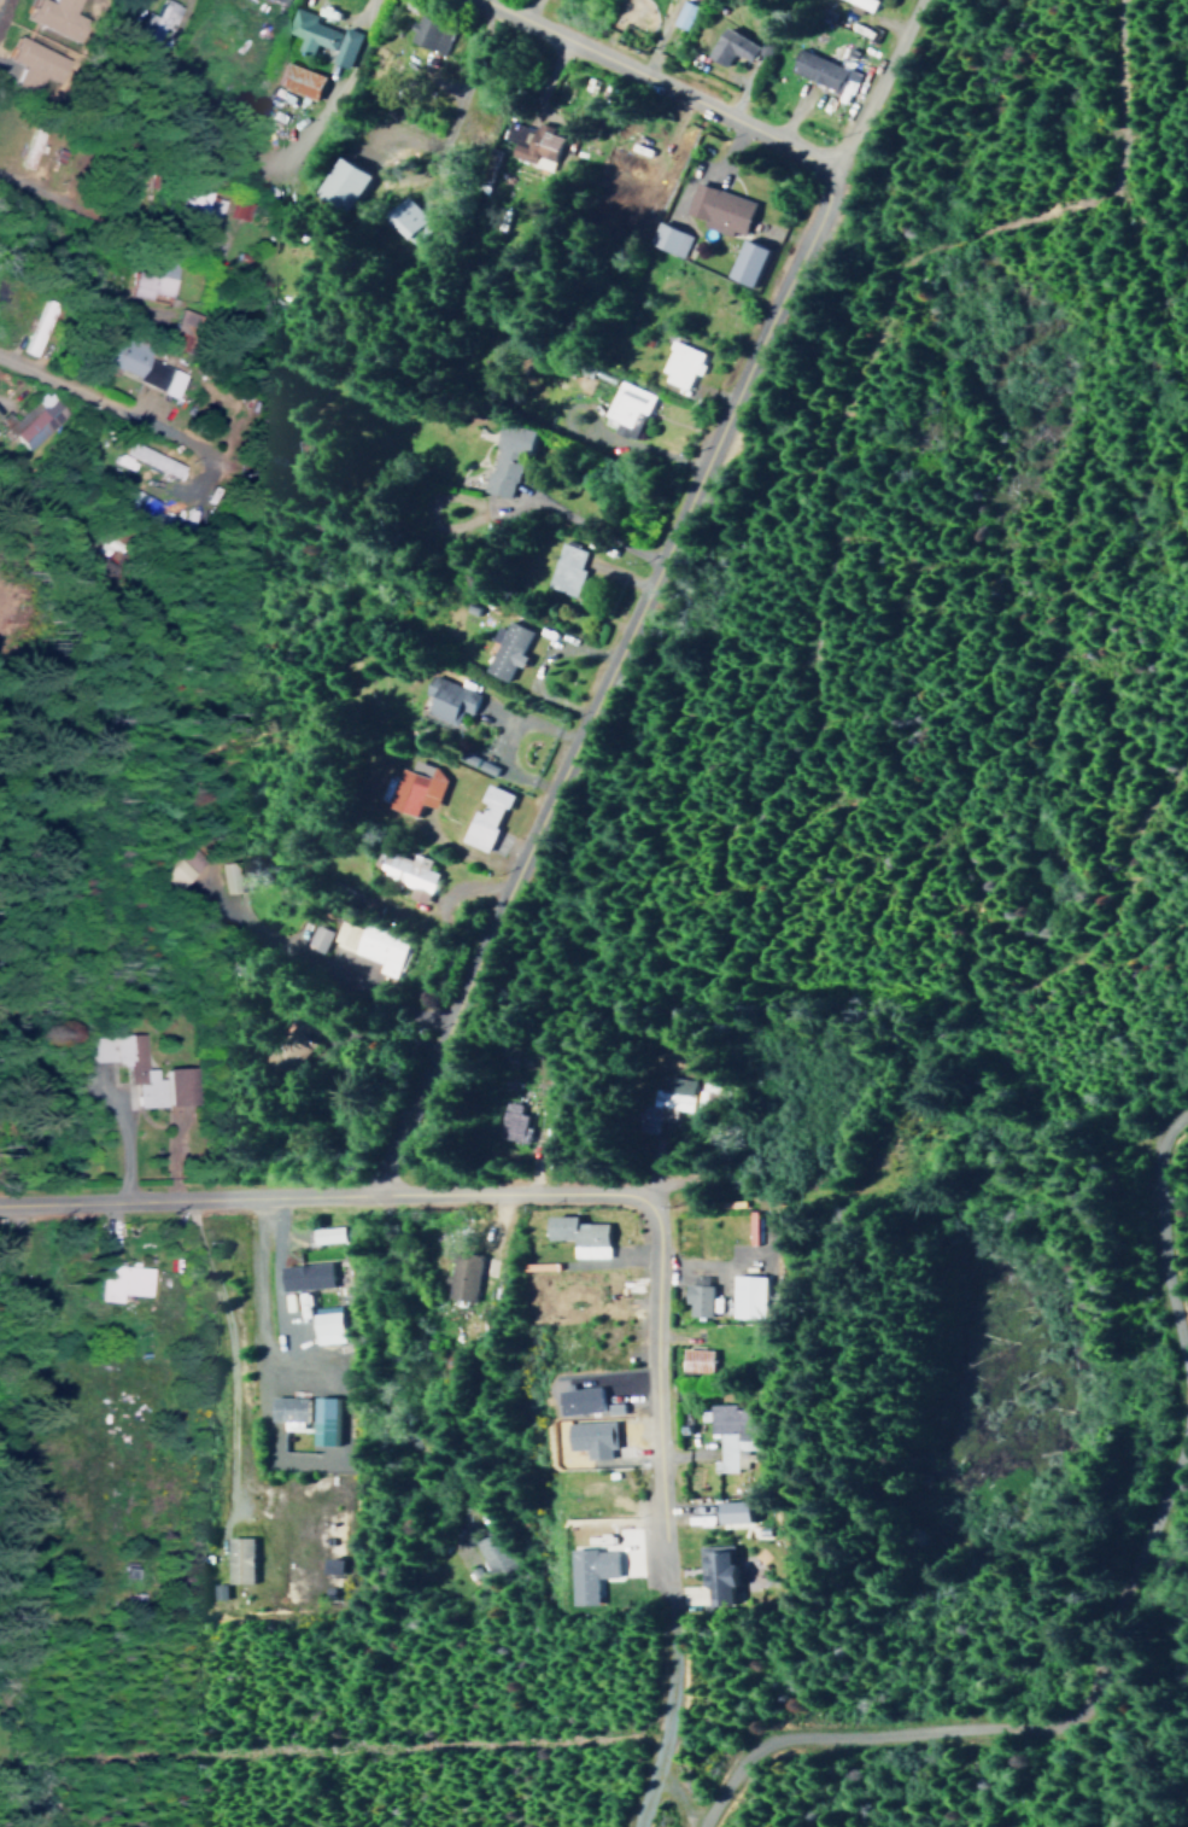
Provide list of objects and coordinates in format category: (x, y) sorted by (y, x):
building: (275, 1)
building: (861, 2)
road: (522, 6)
building: (681, 13)
building: (153, 21)
building: (427, 33)
building: (320, 36)
building: (728, 46)
building: (813, 69)
building: (294, 78)
road: (656, 78)
building: (28, 147)
building: (336, 183)
road: (30, 191)
building: (197, 205)
building: (238, 209)
building: (716, 209)
building: (399, 216)
building: (665, 239)
building: (743, 262)
building: (147, 280)
building: (135, 362)
building: (678, 364)
road: (83, 392)
building: (625, 408)
building: (31, 419)
building: (505, 456)
building: (148, 459)
building: (137, 504)
building: (563, 568)
road: (642, 590)
building: (503, 649)
building: (445, 699)
building: (414, 788)
building: (482, 817)
building: (177, 866)
building: (404, 871)
building: (229, 876)
building: (316, 938)
building: (370, 944)
building: (144, 1072)
building: (662, 1102)
building: (509, 1121)
road: (321, 1190)
building: (326, 1234)
building: (577, 1236)
building: (302, 1276)
building: (458, 1276)
building: (117, 1280)
road: (254, 1291)
building: (744, 1296)
building: (695, 1300)
building: (324, 1326)
road: (224, 1350)
road: (655, 1388)
building: (285, 1408)
building: (321, 1420)
building: (728, 1432)
building: (730, 1512)
building: (488, 1553)
building: (235, 1560)
building: (715, 1570)
building: (587, 1572)
road: (667, 1708)

